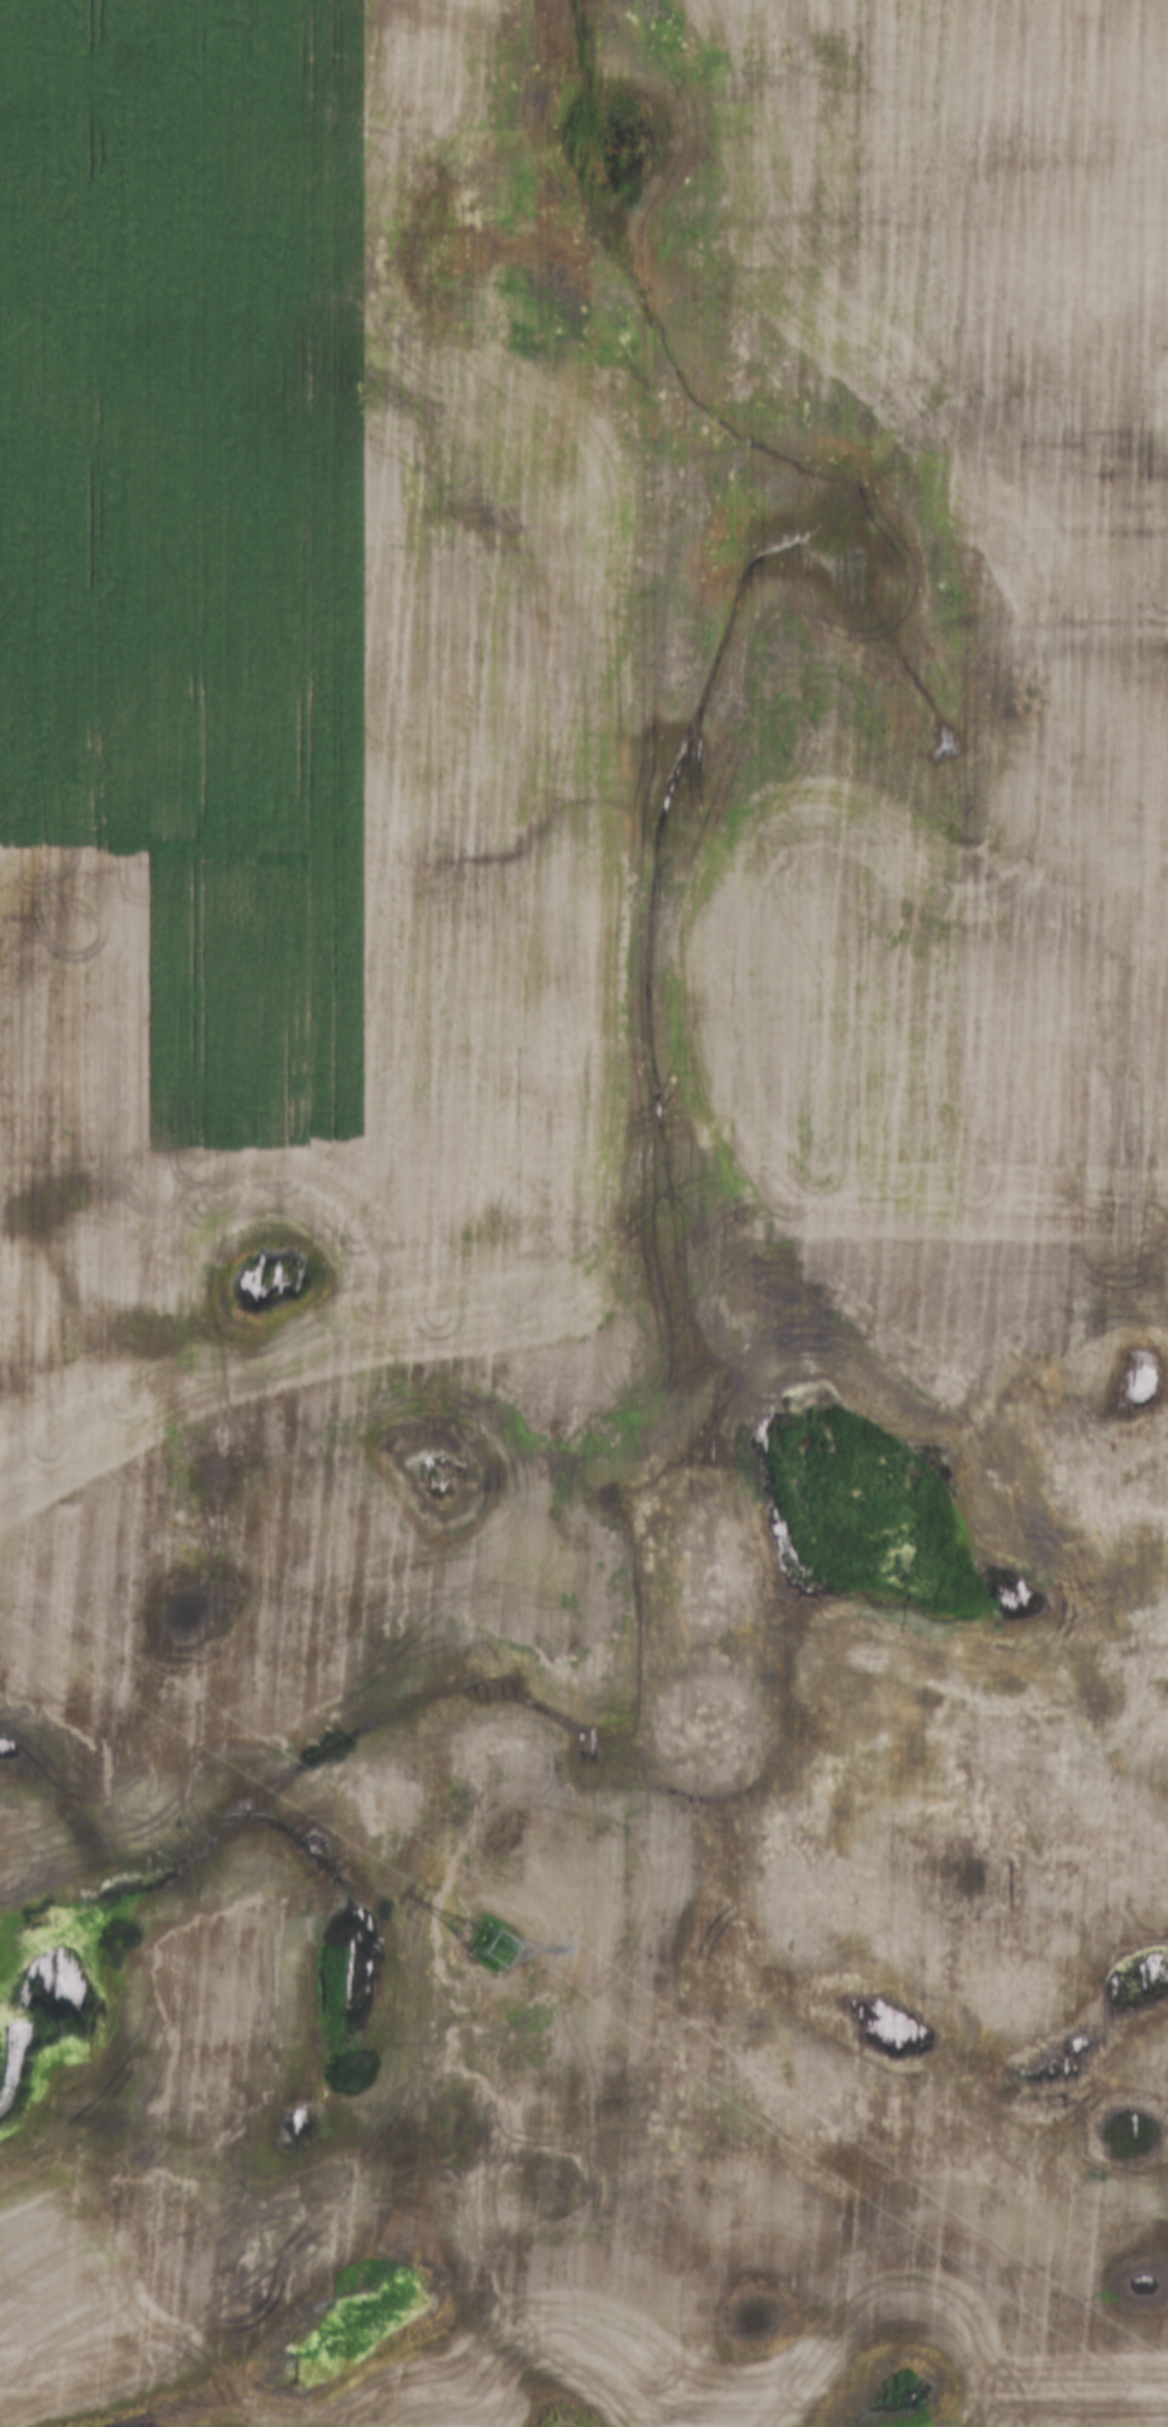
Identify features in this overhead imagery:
power tower: (494, 1952)

